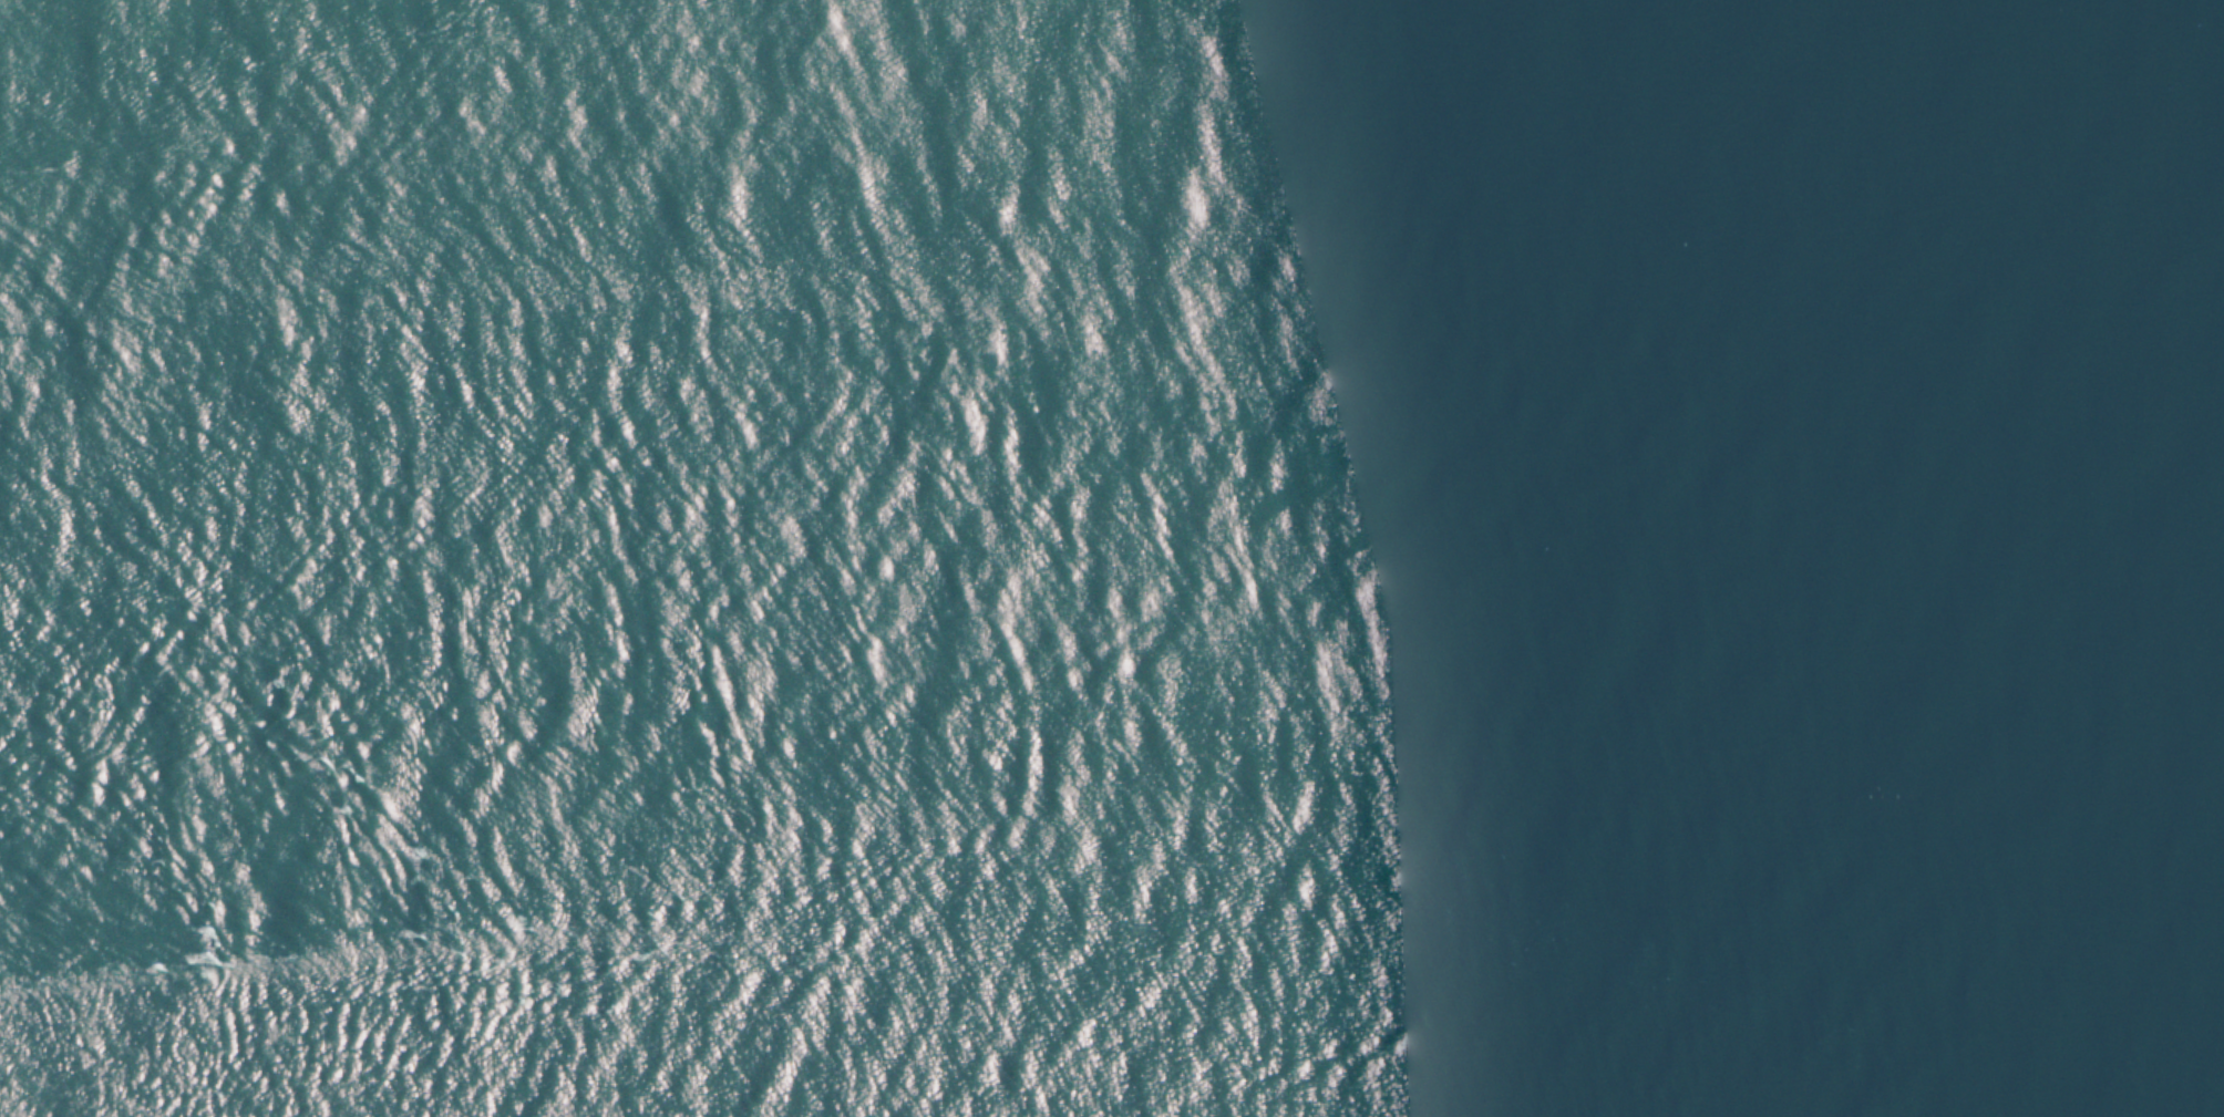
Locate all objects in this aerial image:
river: (2151, 64)

